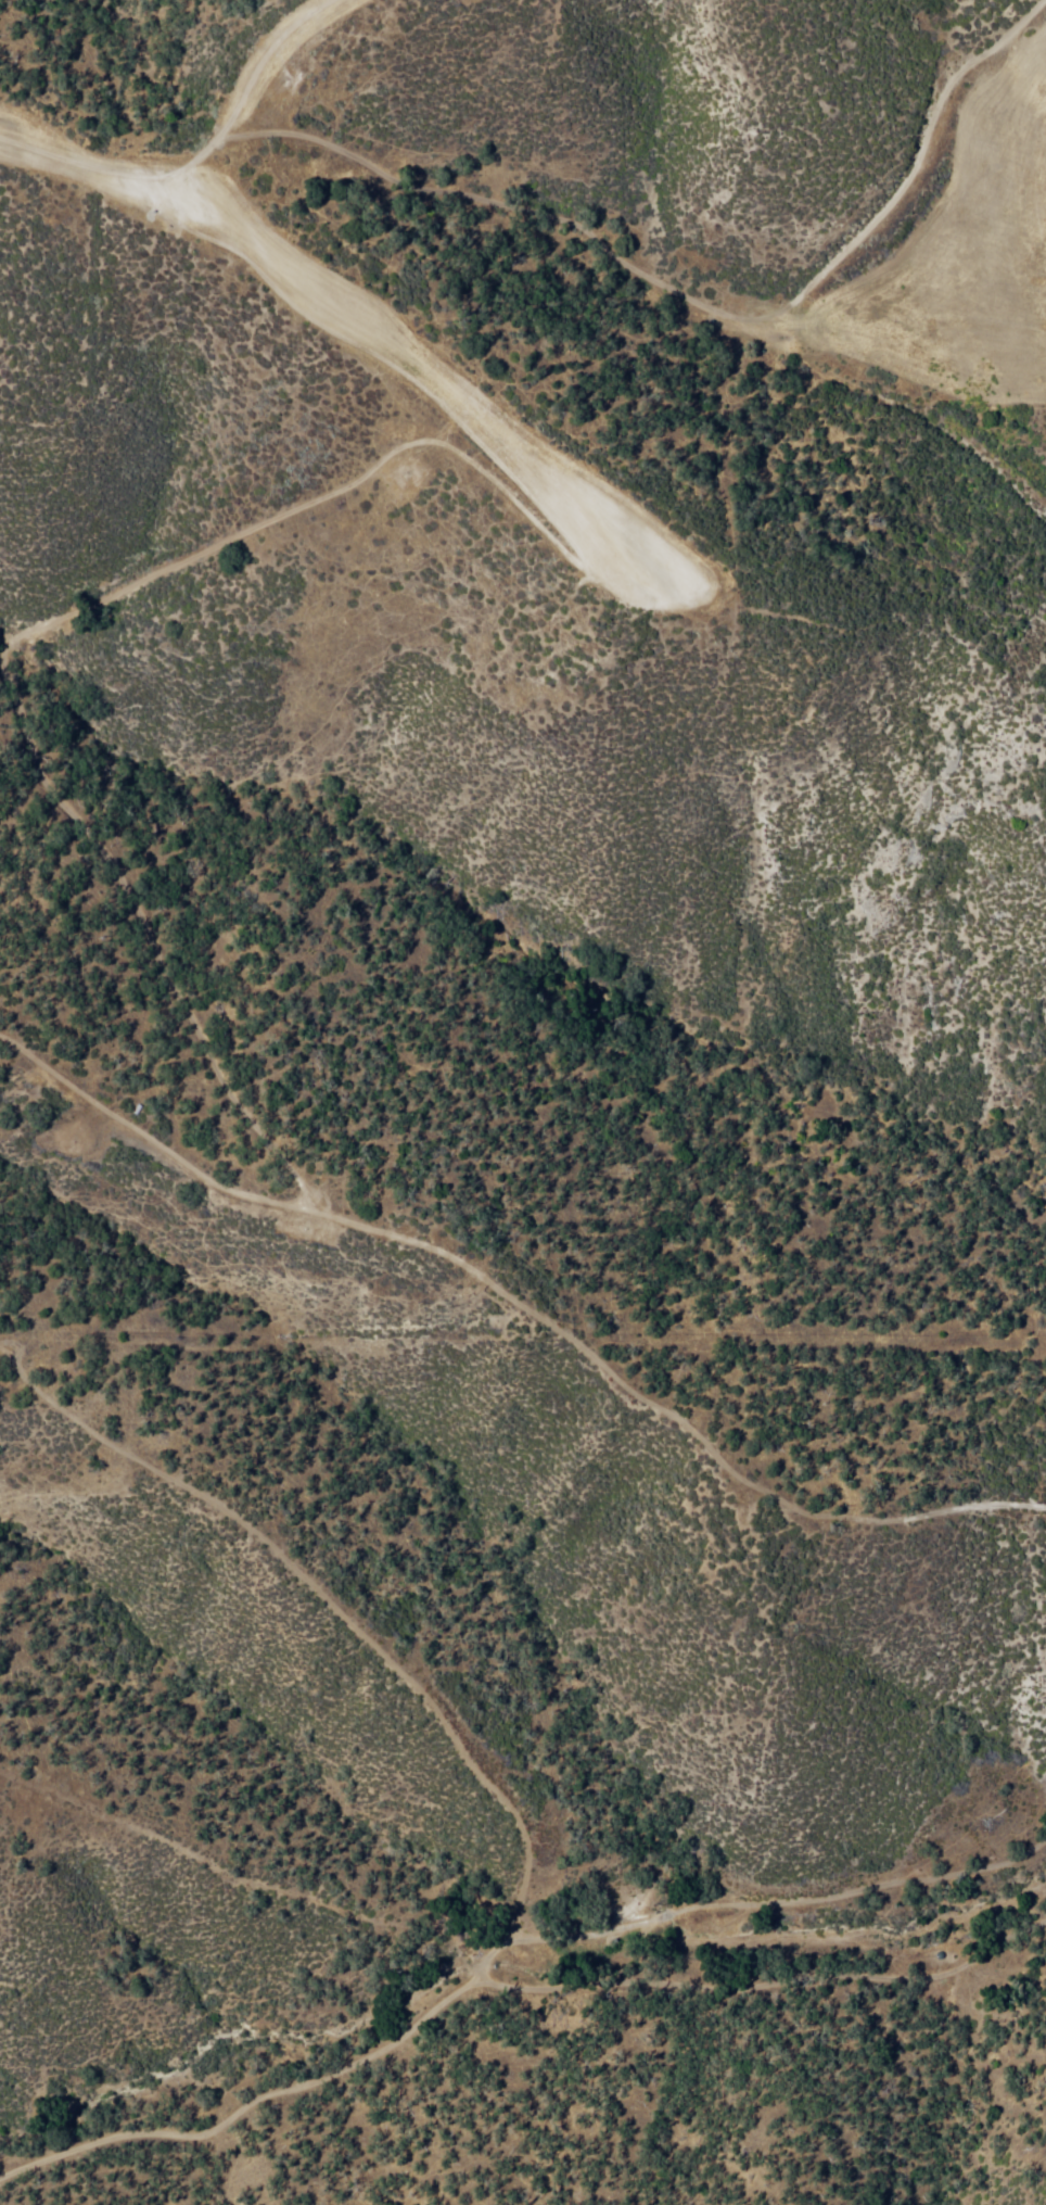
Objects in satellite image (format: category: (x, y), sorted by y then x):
road: (523, 1307)
road: (500, 1959)

